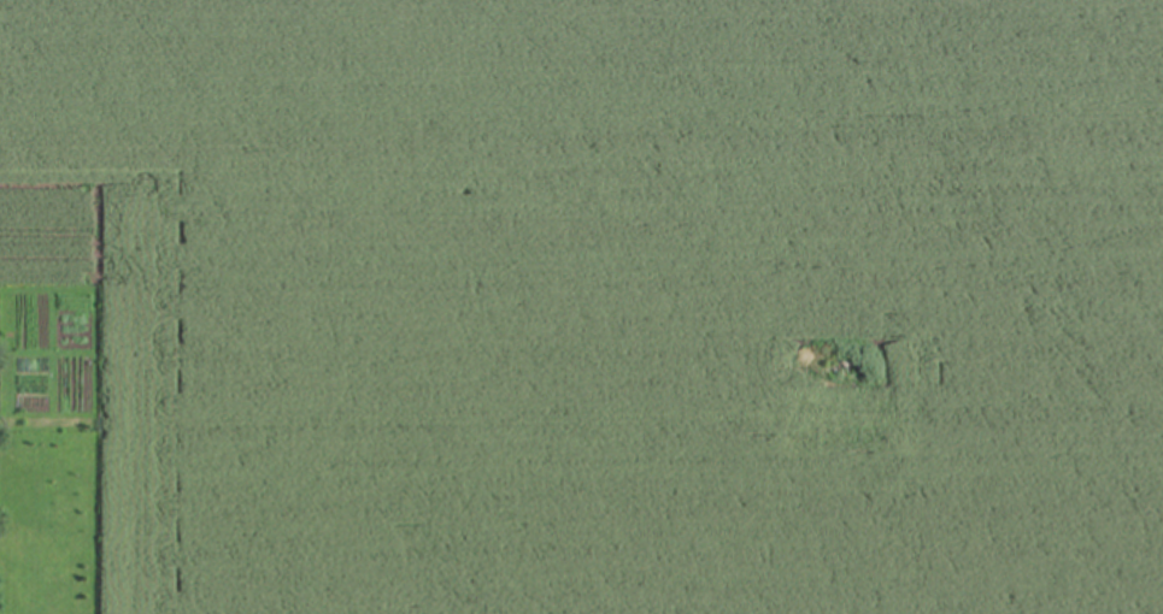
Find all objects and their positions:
crop: (581, 307)

